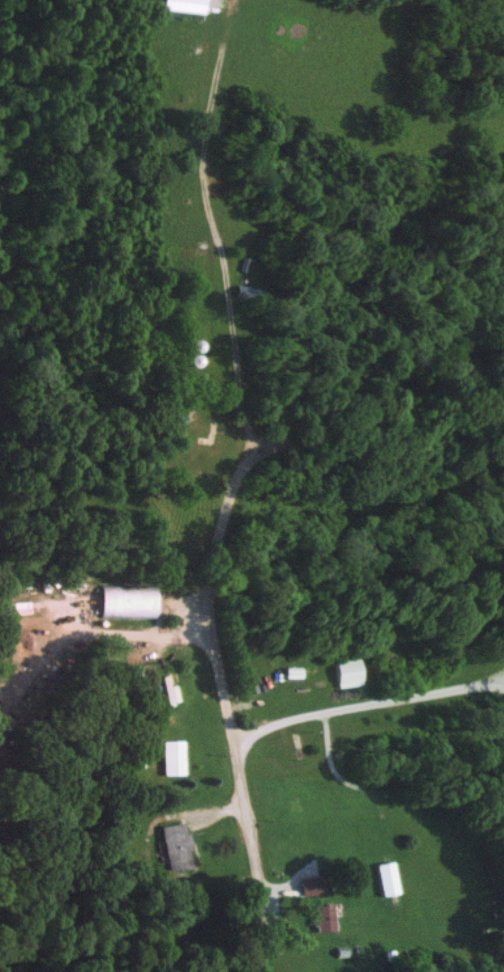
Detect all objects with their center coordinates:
building: (186, 5)
road: (239, 372)
road: (210, 582)
building: (129, 600)
building: (16, 606)
building: (350, 672)
road: (366, 694)
building: (174, 757)
building: (176, 846)
building: (388, 878)
building: (313, 885)
building: (325, 917)

